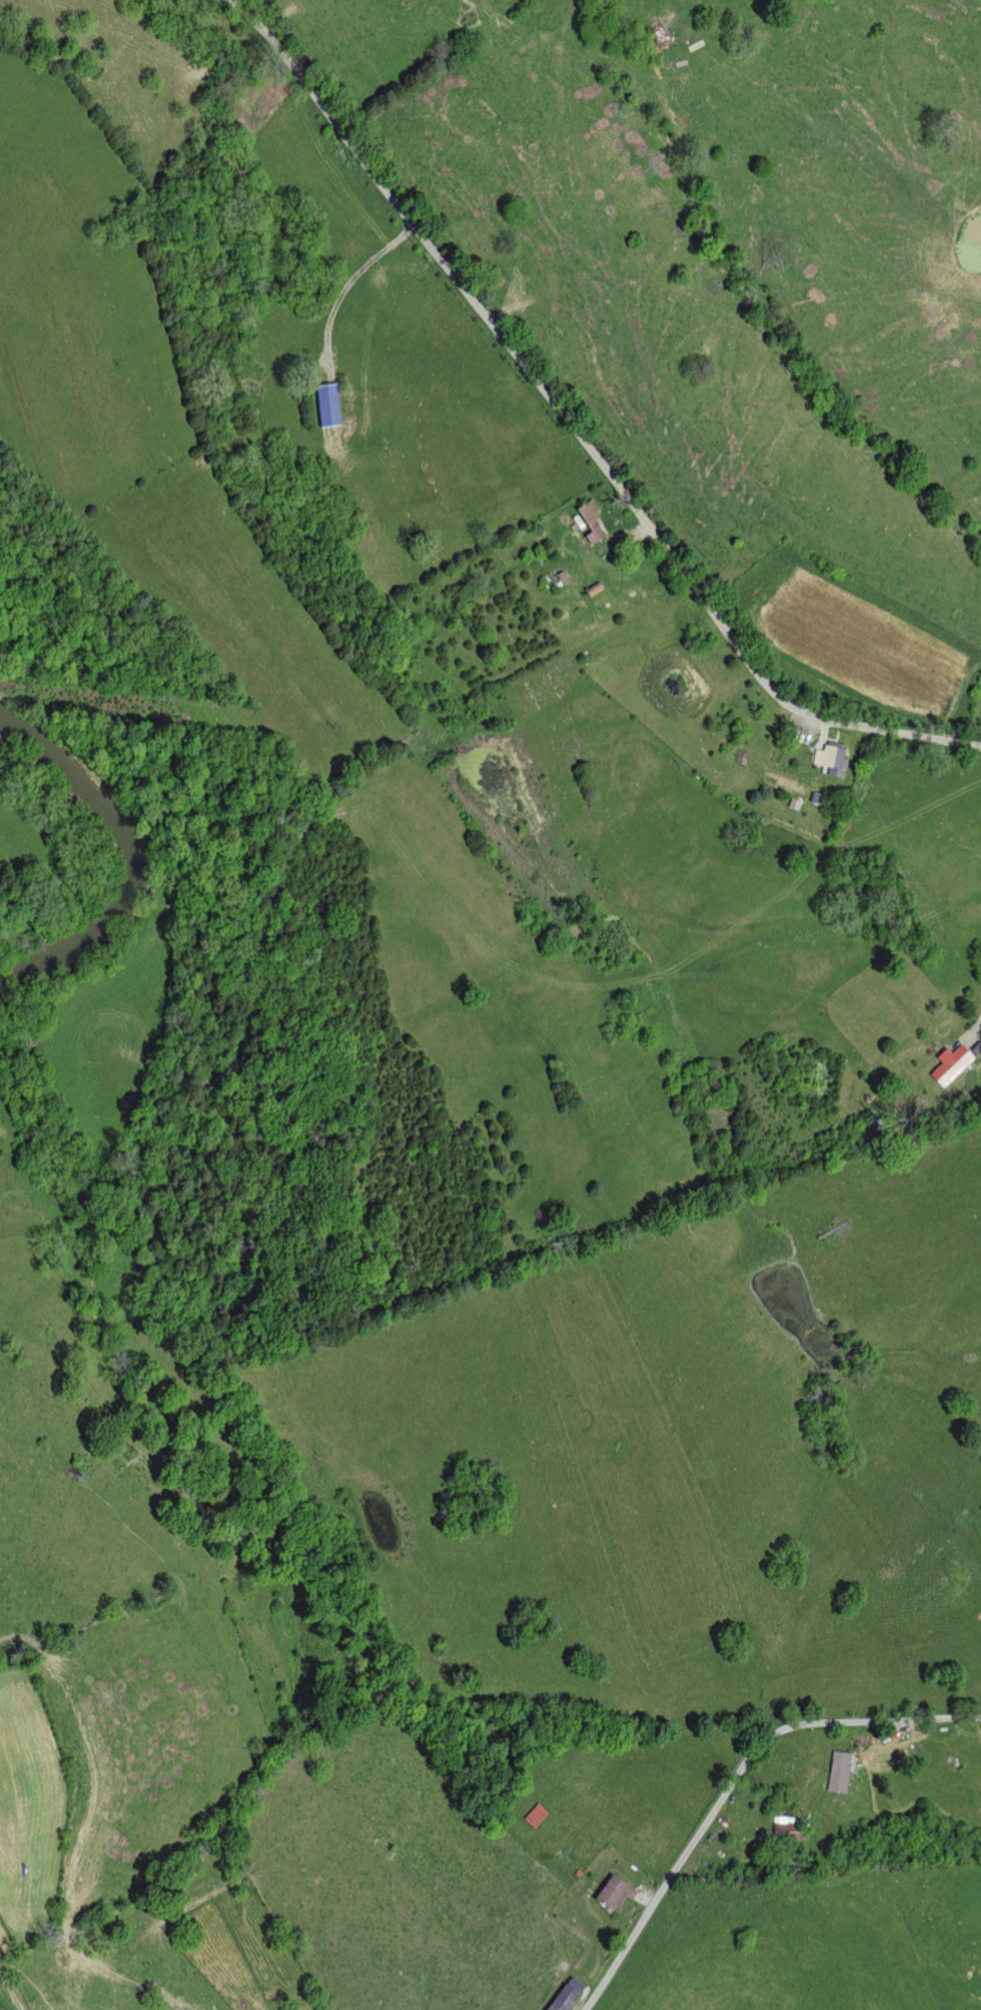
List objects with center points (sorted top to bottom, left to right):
road: (352, 282)
building: (334, 406)
road: (572, 426)
building: (597, 524)
building: (836, 760)
building: (956, 1065)
building: (843, 1772)
road: (733, 1782)
building: (540, 1816)
building: (619, 1892)
building: (572, 1995)

